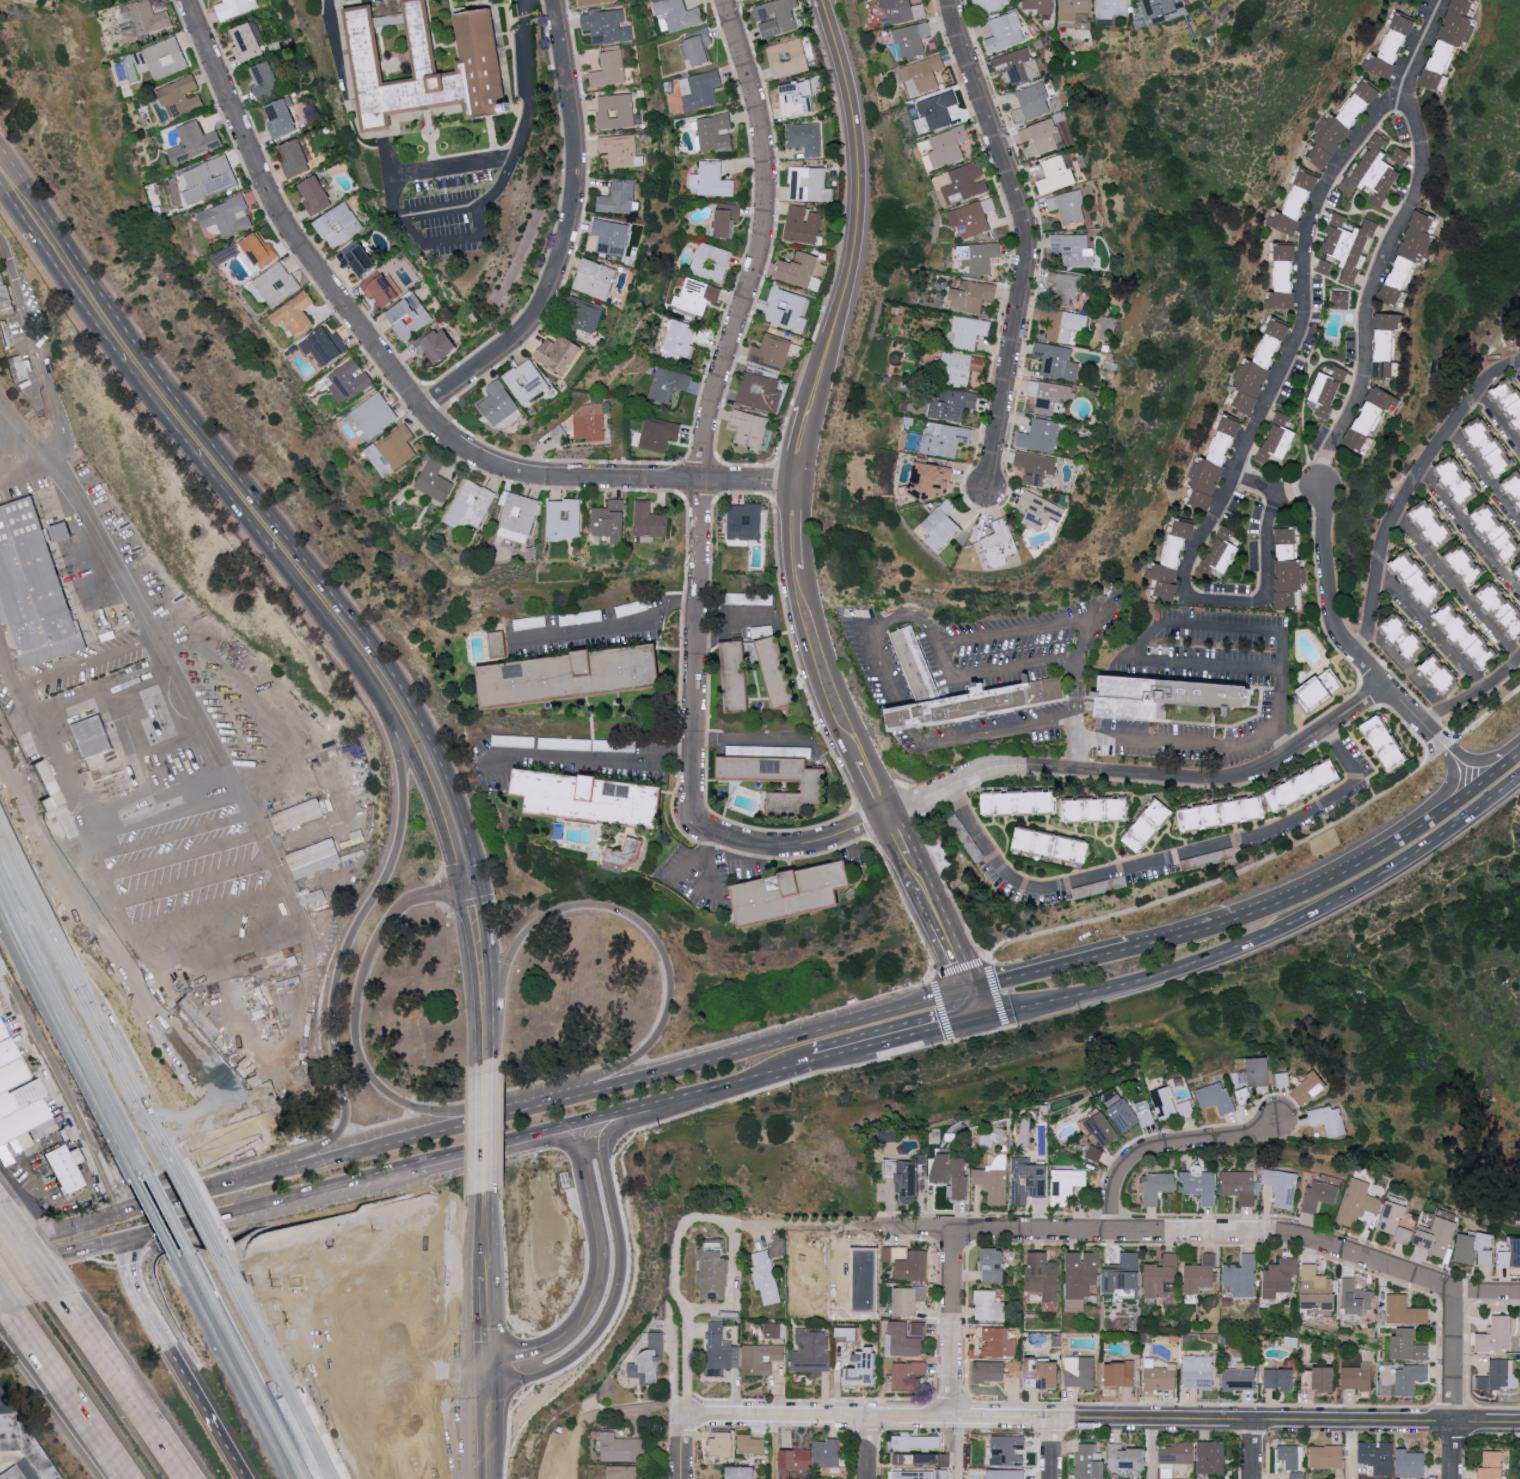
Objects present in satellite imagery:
road: (526, 0)
building: (596, 2)
building: (989, 5)
building: (1039, 6)
building: (234, 7)
building: (1111, 8)
building: (1072, 9)
building: (1157, 10)
building: (903, 11)
building: (676, 15)
building: (146, 16)
building: (775, 17)
building: (609, 26)
building: (1005, 32)
building: (913, 39)
building: (1450, 39)
building: (246, 42)
road: (343, 46)
building: (697, 47)
building: (1390, 48)
building: (165, 57)
building: (788, 57)
building: (1017, 65)
building: (428, 67)
building: (611, 69)
building: (924, 74)
building: (265, 80)
building: (700, 90)
building: (180, 96)
building: (799, 99)
building: (1032, 102)
building: (939, 109)
building: (616, 111)
building: (1341, 124)
building: (714, 132)
building: (1043, 135)
building: (805, 138)
building: (193, 141)
building: (948, 147)
building: (619, 149)
building: (1400, 155)
building: (295, 158)
building: (1374, 173)
building: (1055, 175)
building: (209, 178)
building: (711, 180)
building: (962, 183)
building: (809, 184)
road: (860, 189)
building: (317, 195)
building: (618, 197)
building: (1295, 203)
building: (1068, 206)
road: (466, 208)
road: (283, 215)
building: (227, 216)
building: (973, 217)
building: (727, 220)
building: (803, 224)
building: (339, 225)
road: (567, 235)
building: (612, 237)
road: (1025, 240)
road: (1386, 240)
road: (448, 241)
building: (1348, 244)
building: (1073, 249)
building: (257, 253)
building: (1410, 254)
building: (979, 256)
building: (357, 258)
building: (710, 261)
building: (1325, 267)
building: (798, 269)
building: (1, 279)
building: (596, 279)
building: (1283, 279)
building: (274, 285)
building: (1065, 286)
building: (383, 289)
building: (696, 296)
building: (972, 296)
building: (1341, 300)
building: (5, 302)
building: (786, 309)
parking lot: (33, 314)
building: (294, 314)
building: (583, 315)
building: (410, 316)
building: (1062, 324)
parking lot: (16, 330)
building: (969, 331)
building: (4, 335)
building: (683, 337)
building: (1386, 343)
building: (436, 344)
building: (325, 347)
building: (771, 351)
building: (560, 353)
road: (36, 358)
building: (1056, 361)
building: (1260, 366)
building: (961, 367)
building: (17, 368)
road: (1517, 368)
building: (350, 380)
building: (527, 381)
road: (73, 382)
building: (669, 384)
road: (808, 389)
building: (1327, 392)
building: (760, 393)
building: (1048, 394)
building: (1512, 398)
building: (954, 405)
building: (501, 406)
road: (176, 413)
road: (708, 414)
building: (372, 415)
building: (1369, 417)
building: (589, 421)
road: (1498, 422)
road: (5, 427)
building: (750, 428)
road: (814, 431)
building: (658, 434)
building: (1039, 435)
building: (944, 439)
building: (1277, 440)
road: (790, 443)
road: (1245, 445)
building: (397, 446)
building: (1491, 446)
road: (8, 457)
building: (1213, 464)
building: (1035, 467)
road: (591, 476)
building: (931, 478)
road: (1483, 479)
building: (434, 480)
building: (1459, 480)
road: (1255, 481)
road: (795, 484)
building: (1513, 487)
road: (1405, 490)
building: (470, 504)
building: (1040, 510)
building: (518, 516)
building: (563, 519)
building: (649, 520)
building: (610, 521)
building: (745, 522)
building: (941, 524)
building: (1434, 524)
road: (805, 527)
building: (1498, 531)
building: (62, 532)
road: (1468, 534)
parking lot: (127, 540)
building: (1000, 543)
building: (1220, 555)
building: (1171, 560)
building: (1467, 565)
building: (1289, 571)
building: (1518, 571)
building: (1419, 579)
building: (33, 586)
road: (1456, 588)
road: (683, 604)
building: (1501, 607)
road: (728, 617)
road: (798, 625)
road: (607, 626)
road: (1009, 631)
road: (1427, 632)
road: (1280, 634)
building: (1405, 636)
building: (1468, 636)
road: (871, 641)
road: (1345, 641)
road: (158, 644)
building: (496, 644)
building: (915, 663)
road: (85, 664)
road: (1074, 666)
building: (778, 673)
building: (1441, 674)
parking lot: (90, 675)
building: (572, 676)
building: (737, 677)
building: (1319, 691)
road: (843, 694)
road: (1472, 695)
building: (1167, 698)
building: (981, 704)
parking lot: (228, 715)
building: (93, 737)
road: (744, 740)
road: (1279, 744)
building: (1385, 744)
road: (1519, 747)
road: (584, 754)
road: (1105, 758)
road: (1487, 758)
road: (1075, 759)
parking lot: (174, 763)
road: (431, 766)
road: (1054, 770)
building: (1305, 785)
road: (1472, 785)
building: (47, 786)
building: (816, 787)
road: (862, 791)
road: (1442, 792)
building: (591, 799)
building: (1019, 803)
building: (1095, 809)
building: (311, 810)
building: (1223, 814)
road: (160, 823)
building: (1148, 826)
road: (168, 837)
building: (1051, 846)
building: (623, 855)
road: (694, 856)
road: (179, 857)
building: (314, 858)
road: (1163, 862)
road: (709, 870)
parking lot: (188, 871)
road: (192, 881)
traffic signals: (471, 890)
building: (793, 893)
road: (439, 894)
building: (310, 895)
road: (1283, 898)
road: (928, 904)
road: (205, 910)
road: (361, 920)
road: (1266, 929)
railway: (6, 931)
road: (650, 937)
road: (480, 950)
road: (1050, 972)
road: (1, 985)
railway: (84, 991)
traffic signals: (971, 993)
railway: (79, 1004)
road: (976, 1006)
traffic signals: (981, 1020)
road: (955, 1026)
railway: (72, 1032)
railway: (106, 1043)
road: (484, 1043)
railway: (106, 1044)
road: (763, 1048)
road: (871, 1048)
road: (639, 1056)
railway: (71, 1061)
road: (360, 1064)
building: (1258, 1071)
road: (574, 1076)
road: (746, 1082)
building: (1310, 1088)
road: (60, 1096)
building: (1216, 1097)
building: (20, 1100)
building: (1170, 1104)
road: (537, 1108)
road: (413, 1110)
building: (1132, 1114)
road: (612, 1118)
building: (1329, 1120)
road: (380, 1128)
building: (1103, 1128)
road: (341, 1129)
road: (483, 1133)
road: (628, 1140)
road: (406, 1141)
road: (628, 1143)
road: (1168, 1145)
road: (593, 1146)
road: (572, 1148)
road: (197, 1151)
road: (545, 1153)
building: (1095, 1153)
road: (559, 1156)
road: (246, 1167)
building: (66, 1169)
building: (953, 1175)
road: (42, 1180)
building: (1028, 1180)
building: (1200, 1183)
building: (993, 1184)
building: (1067, 1184)
building: (1158, 1186)
building: (1240, 1186)
building: (1282, 1187)
road: (337, 1188)
road: (29, 1189)
road: (207, 1192)
building: (1320, 1195)
road: (400, 1198)
road: (25, 1199)
road: (48, 1199)
road: (203, 1201)
road: (117, 1202)
building: (1358, 1202)
railway: (195, 1203)
railway: (186, 1207)
road: (78, 1213)
railway: (168, 1214)
railway: (152, 1218)
road: (409, 1221)
building: (1395, 1221)
road: (24, 1226)
road: (60, 1230)
road: (482, 1232)
road: (1139, 1232)
building: (1437, 1237)
traffic signals: (130, 1239)
building: (712, 1243)
building: (1475, 1248)
road: (64, 1254)
building: (1511, 1255)
road: (447, 1256)
road: (29, 1260)
road: (132, 1260)
road: (619, 1262)
building: (993, 1265)
parking lot: (363, 1266)
building: (914, 1266)
road: (391, 1267)
road: (57, 1269)
building: (1124, 1273)
building: (713, 1274)
building: (1201, 1274)
building: (1045, 1275)
building: (1161, 1275)
building: (765, 1276)
building: (1242, 1276)
building: (1280, 1276)
building: (1082, 1279)
building: (859, 1283)
building: (1318, 1289)
road: (679, 1290)
road: (307, 1296)
building: (1356, 1297)
building: (908, 1300)
road: (288, 1305)
road: (594, 1306)
building: (988, 1306)
building: (1405, 1310)
road: (146, 1311)
road: (333, 1312)
road: (482, 1322)
road: (951, 1325)
building: (919, 1328)
building: (773, 1330)
road: (514, 1332)
road: (521, 1333)
building: (1500, 1333)
road: (359, 1335)
road: (485, 1338)
building: (903, 1340)
road: (314, 1342)
road: (455, 1342)
building: (999, 1342)
building: (1409, 1345)
building: (720, 1350)
road: (343, 1351)
building: (812, 1352)
road: (448, 1353)
building: (761, 1358)
road: (295, 1360)
railway: (226, 1361)
road: (285, 1361)
building: (650, 1361)
railway: (277, 1363)
road: (523, 1365)
railway: (245, 1366)
railway: (268, 1366)
railway: (292, 1371)
building: (989, 1371)
building: (1080, 1371)
building: (1198, 1371)
road: (419, 1373)
building: (1044, 1373)
building: (1160, 1374)
road: (448, 1375)
traffic signals: (482, 1375)
building: (1499, 1375)
road: (286, 1376)
building: (909, 1376)
building: (1309, 1377)
building: (1357, 1377)
building: (1240, 1378)
building: (1281, 1378)
building: (1326, 1378)
building: (1410, 1378)
railway: (270, 1381)
building: (1126, 1381)
building: (1012, 1383)
road: (1455, 1386)
road: (121, 1391)
road: (525, 1394)
road: (367, 1395)
building: (304, 1397)
road: (368, 1398)
road: (58, 1399)
road: (448, 1399)
road: (485, 1400)
road: (452, 1401)
road: (518, 1402)
road: (447, 1405)
road: (342, 1412)
road: (302, 1419)
road: (1032, 1420)
road: (368, 1421)
road: (433, 1421)
road: (347, 1425)
road: (1487, 1425)
road: (216, 1427)
road: (482, 1427)
road: (375, 1435)
parking lot: (412, 1436)
road: (364, 1437)
building: (721, 1444)
building: (752, 1444)
building: (23, 1445)
building: (621, 1447)
building: (913, 1447)
road: (667, 1448)
road: (680, 1448)
road: (777, 1448)
road: (382, 1449)
road: (393, 1449)
road: (871, 1449)
road: (963, 1449)
road: (1051, 1449)
building: (1008, 1450)
road: (1153, 1450)
road: (1255, 1450)
road: (1350, 1451)
building: (1177, 1452)
building: (826, 1453)
building: (1290, 1456)
building: (1327, 1456)
building: (1379, 1456)
building: (1212, 1457)
building: (1127, 1458)
building: (796, 1459)
building: (1090, 1462)
building: (1412, 1463)
building: (1491, 1464)
building: (339, 1465)
building: (313, 1471)
railway: (285, 1472)
building: (626, 1472)
building: (740, 1472)
road: (395, 1474)
building: (921, 1474)
building: (1006, 1474)
building: (12, 1475)
building: (1295, 1475)

